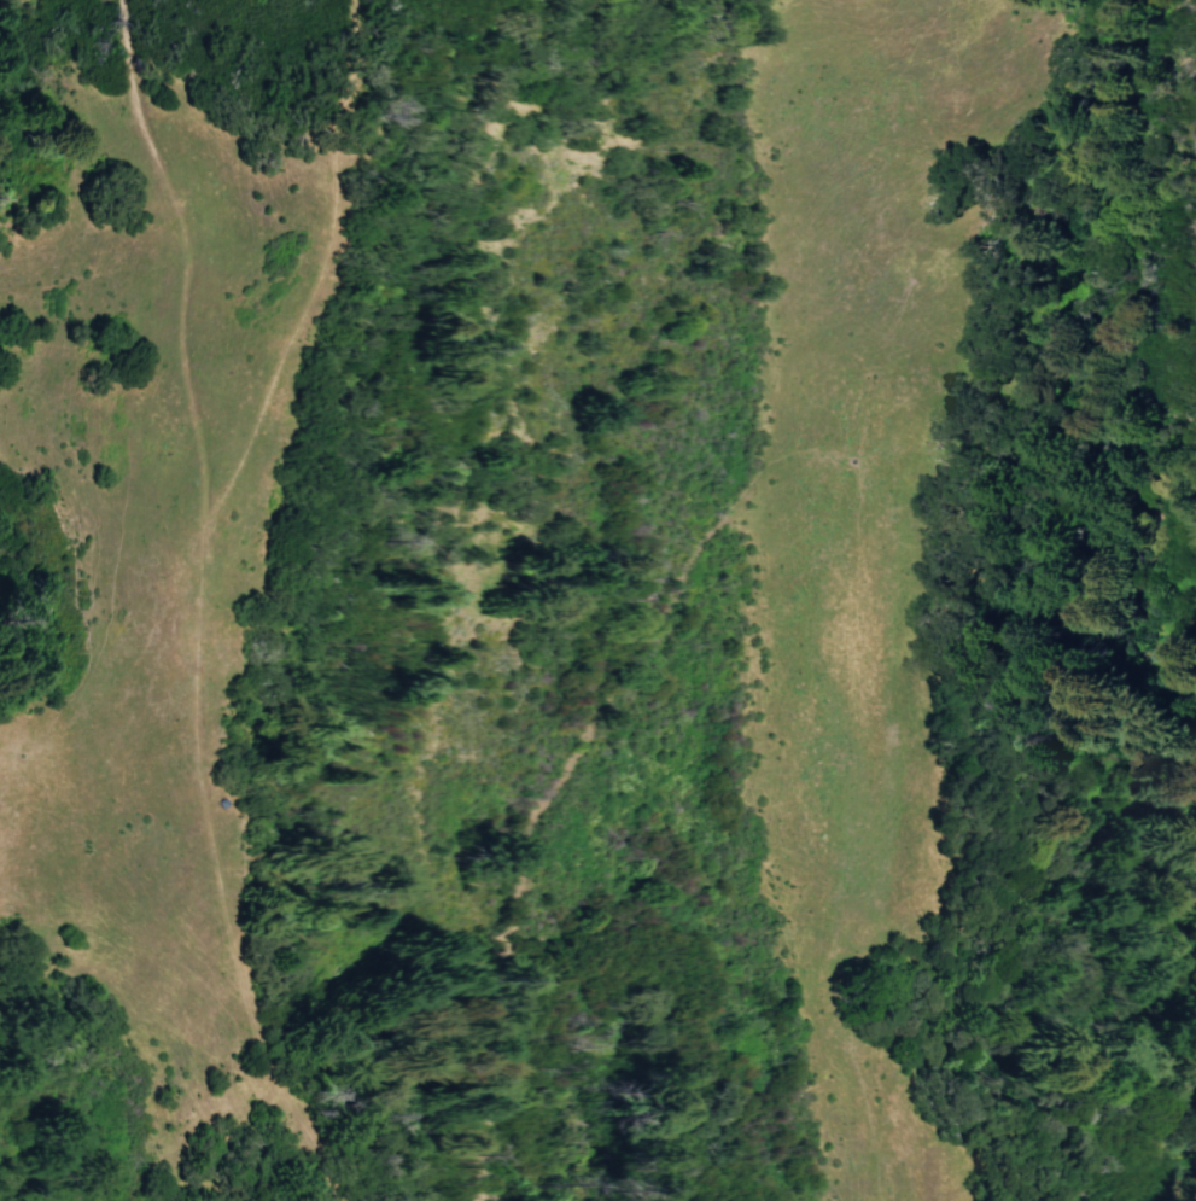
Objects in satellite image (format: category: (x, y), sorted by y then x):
road: (140, 132)
road: (256, 240)
road: (309, 280)
road: (774, 457)
road: (197, 741)
water tower: (222, 803)

